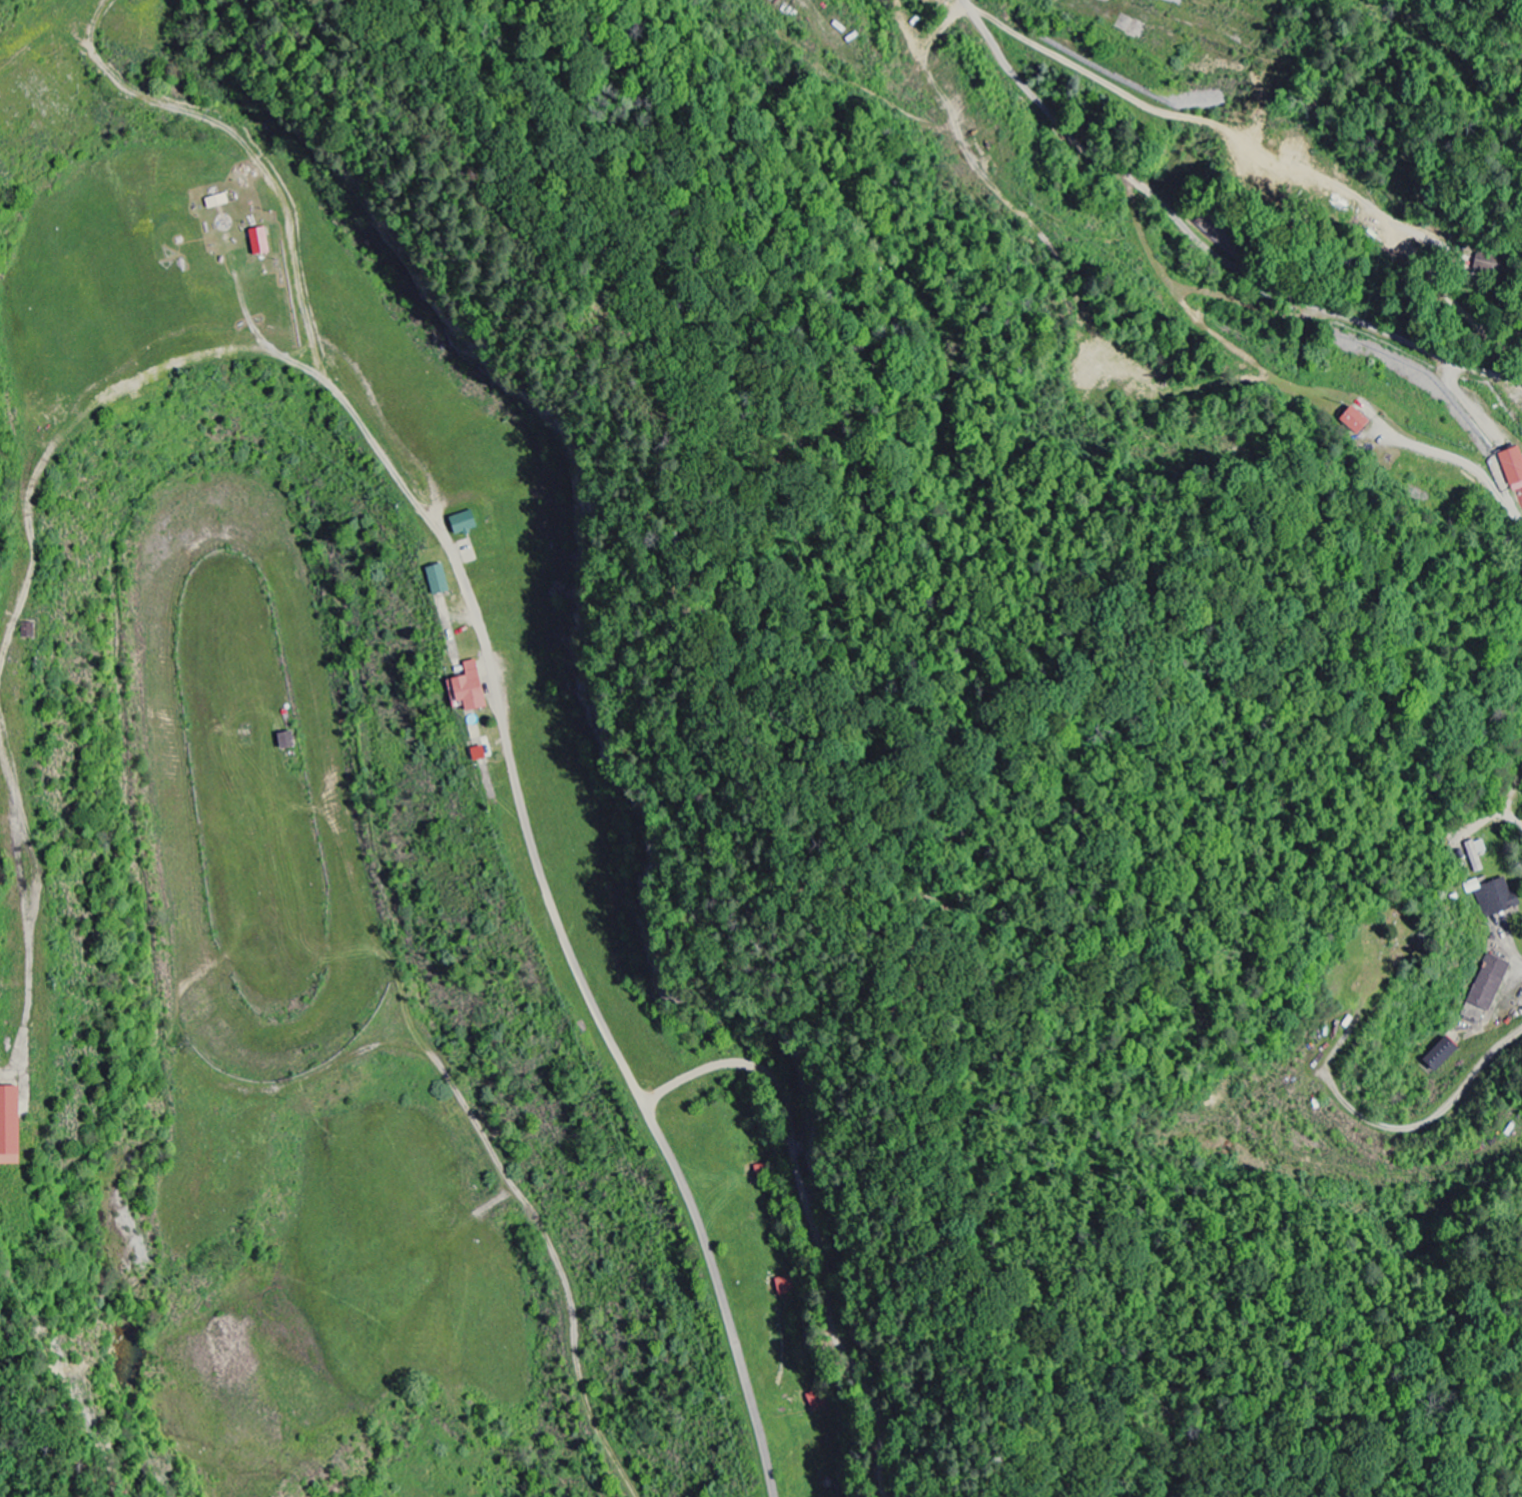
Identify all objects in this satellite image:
building: (257, 242)
road: (1204, 246)
building: (1489, 264)
road: (1441, 284)
building: (1353, 420)
building: (1512, 469)
building: (460, 524)
building: (434, 580)
building: (464, 690)
building: (282, 741)
building: (1475, 856)
building: (1492, 897)
building: (1488, 984)
building: (1438, 1056)
building: (7, 1127)
building: (816, 1402)

